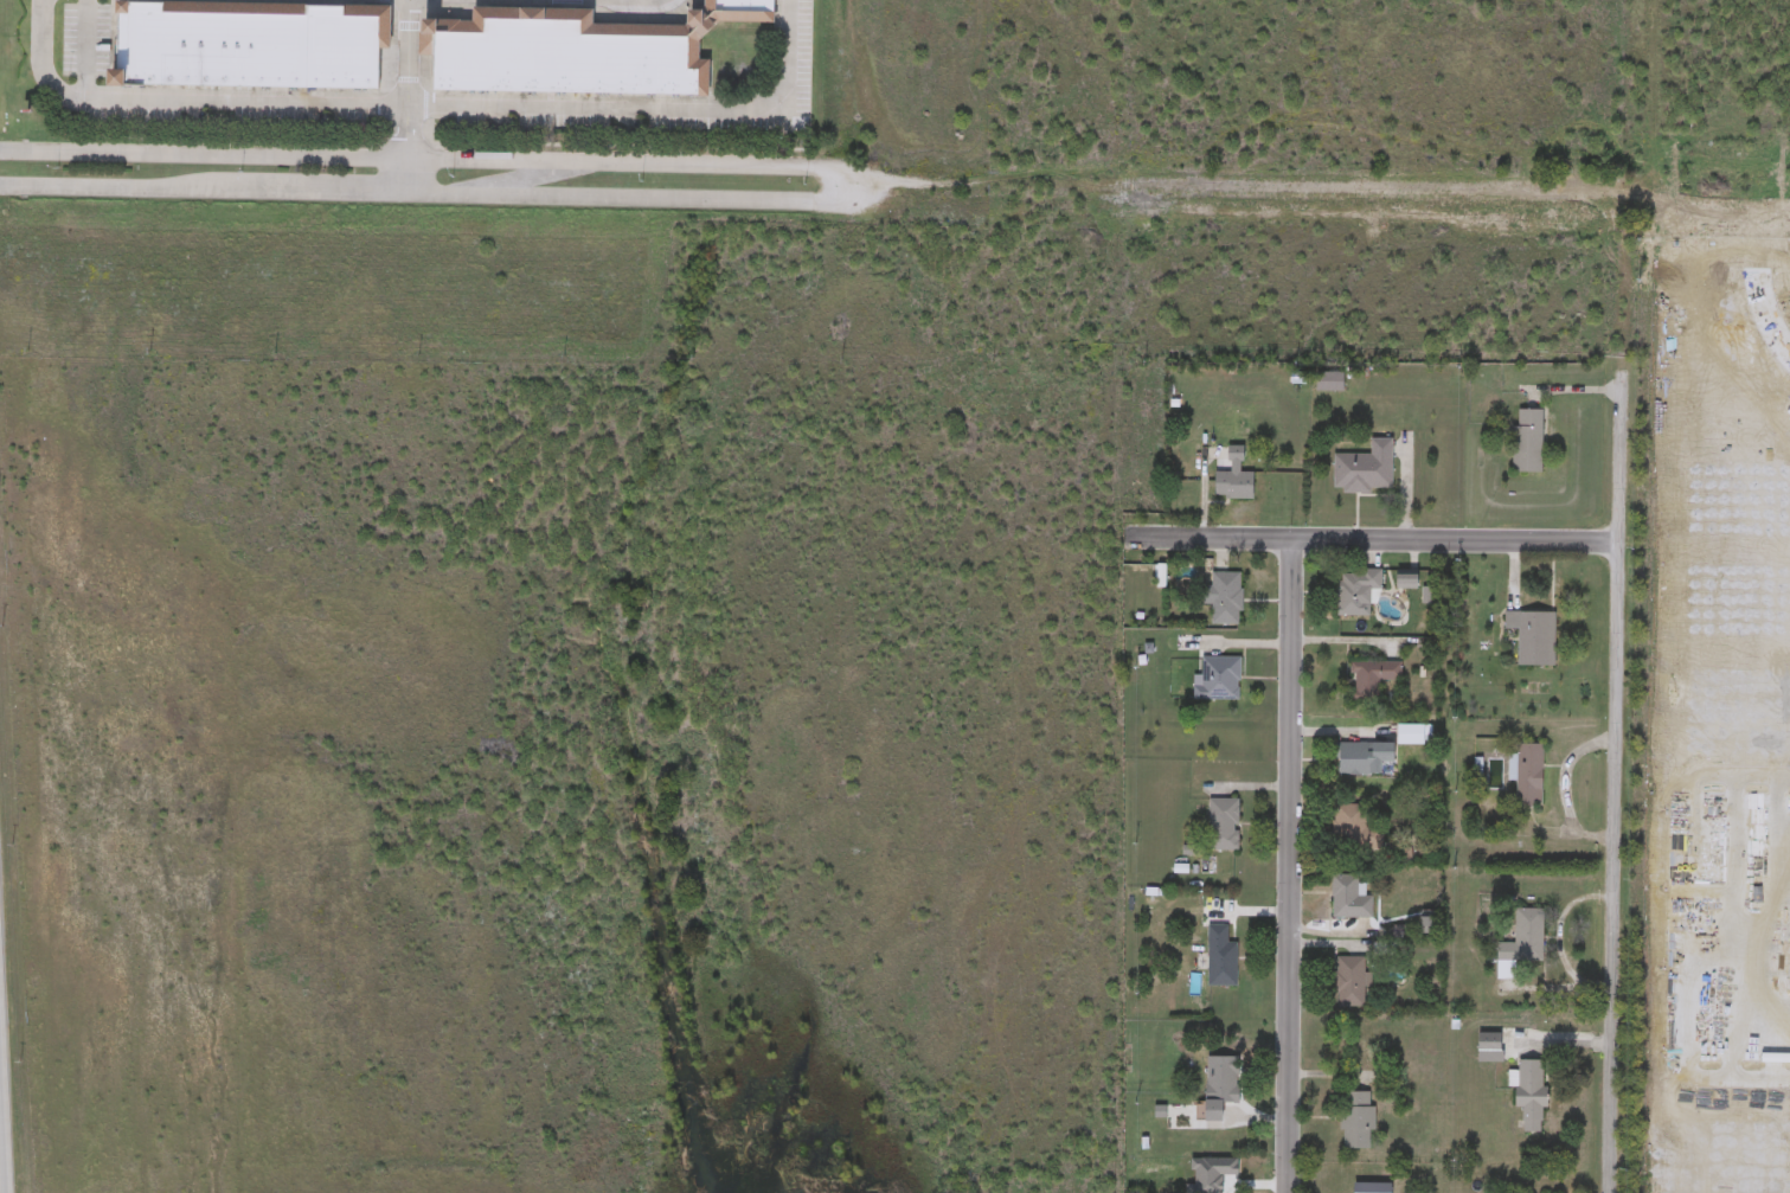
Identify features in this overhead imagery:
road: (595, 1)
building: (249, 44)
building: (571, 52)
road: (406, 97)
road: (426, 109)
road: (1759, 114)
road: (1712, 186)
road: (868, 187)
road: (1246, 187)
road: (1702, 220)
road: (1760, 297)
building: (1323, 380)
building: (1523, 440)
building: (1359, 468)
building: (1227, 477)
road: (1378, 544)
building: (1398, 579)
building: (1353, 590)
building: (1219, 596)
building: (1528, 635)
building: (1215, 678)
building: (1368, 678)
road: (1617, 688)
building: (1406, 733)
building: (1358, 757)
building: (1526, 775)
building: (1219, 823)
building: (1350, 827)
road: (1290, 868)
building: (1347, 896)
road: (1732, 929)
road: (1775, 930)
road: (1689, 932)
road: (1345, 934)
building: (1520, 937)
road: (1557, 941)
building: (1217, 956)
building: (1347, 980)
road: (1544, 988)
road: (1557, 1041)
building: (1361, 1053)
building: (1214, 1084)
building: (1526, 1092)
building: (1352, 1120)
road: (2, 1130)

